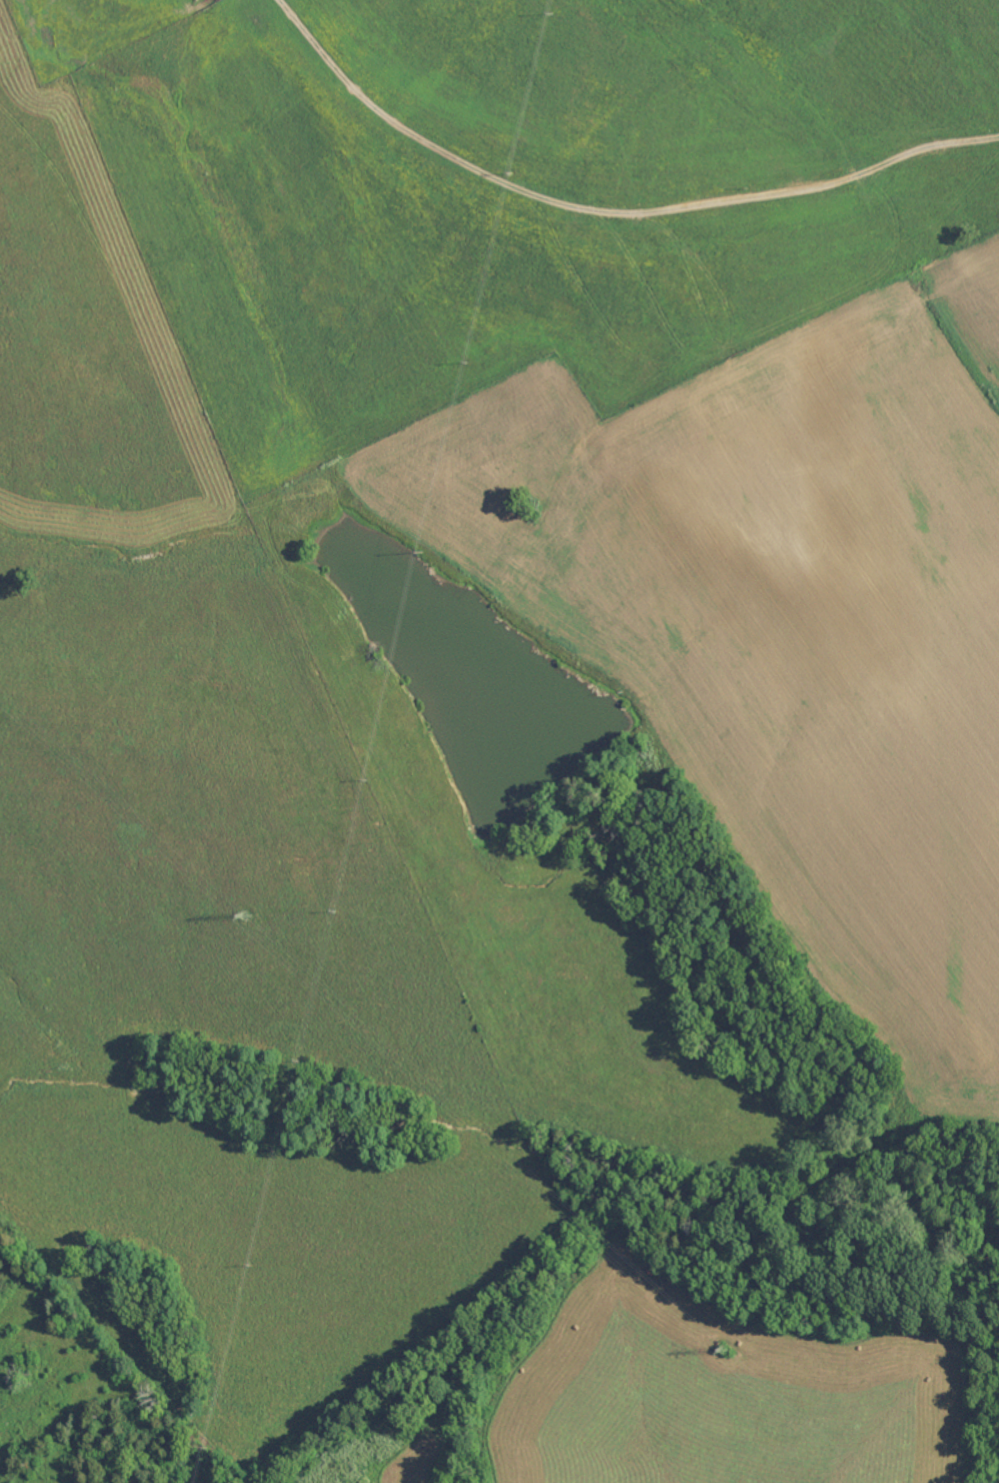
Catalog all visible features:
road: (607, 211)

